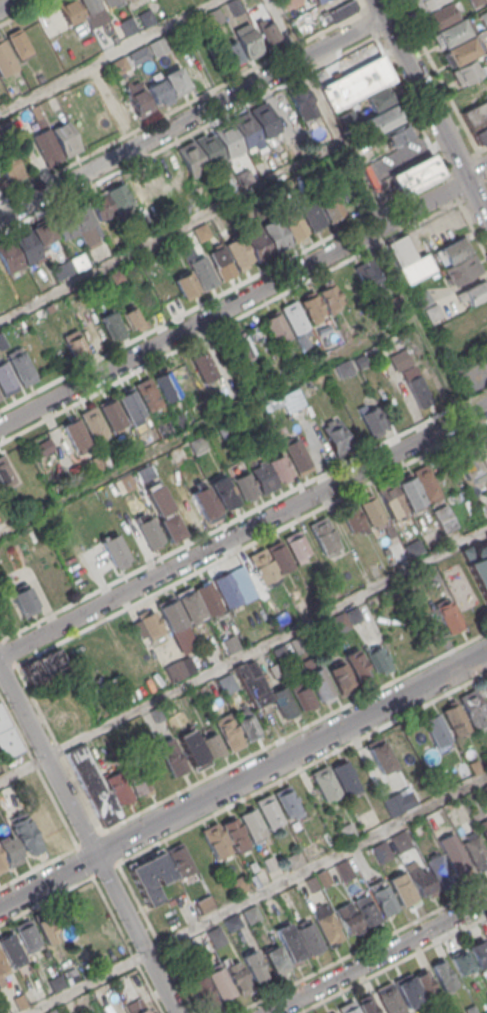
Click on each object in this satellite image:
building: (316, 1)
building: (107, 2)
building: (475, 2)
road: (7, 4)
building: (426, 4)
building: (69, 10)
building: (94, 10)
building: (336, 10)
building: (216, 15)
building: (145, 17)
building: (440, 17)
building: (484, 18)
building: (127, 26)
building: (268, 33)
building: (451, 34)
building: (247, 41)
building: (18, 43)
building: (157, 46)
building: (461, 52)
building: (233, 53)
building: (139, 54)
road: (106, 56)
building: (5, 59)
building: (118, 65)
building: (465, 72)
building: (175, 81)
building: (356, 83)
building: (158, 92)
building: (137, 98)
building: (378, 99)
building: (301, 102)
road: (431, 108)
building: (120, 111)
road: (325, 112)
building: (37, 115)
building: (476, 115)
road: (192, 117)
building: (382, 120)
building: (264, 121)
building: (246, 132)
building: (397, 134)
building: (481, 135)
building: (65, 139)
building: (228, 141)
building: (46, 147)
building: (210, 150)
building: (192, 159)
building: (10, 167)
road: (476, 170)
building: (415, 174)
building: (243, 177)
building: (138, 187)
building: (118, 197)
building: (330, 204)
building: (101, 206)
building: (240, 212)
building: (311, 213)
building: (293, 222)
building: (63, 223)
building: (85, 223)
building: (42, 231)
building: (201, 231)
road: (170, 232)
building: (276, 234)
building: (258, 241)
building: (27, 245)
building: (187, 247)
building: (400, 250)
building: (454, 250)
building: (239, 253)
building: (9, 257)
building: (79, 261)
building: (221, 263)
building: (462, 269)
building: (203, 272)
building: (410, 272)
building: (116, 276)
building: (368, 277)
building: (185, 283)
building: (475, 292)
building: (330, 296)
building: (422, 299)
road: (234, 303)
building: (393, 304)
building: (312, 305)
building: (48, 308)
building: (432, 312)
building: (475, 314)
building: (294, 316)
building: (131, 317)
building: (111, 326)
building: (276, 327)
building: (2, 341)
building: (74, 343)
road: (427, 344)
building: (239, 346)
building: (399, 359)
building: (360, 361)
building: (203, 365)
building: (20, 367)
building: (344, 368)
building: (183, 374)
building: (6, 380)
building: (166, 383)
building: (416, 388)
building: (148, 394)
building: (222, 397)
building: (0, 398)
building: (129, 404)
building: (111, 414)
building: (180, 419)
building: (371, 420)
building: (93, 423)
road: (206, 424)
building: (163, 428)
building: (485, 431)
building: (75, 432)
building: (335, 437)
building: (197, 444)
building: (296, 454)
building: (466, 461)
building: (160, 465)
building: (279, 467)
building: (5, 473)
building: (144, 473)
building: (263, 477)
building: (127, 482)
building: (426, 482)
building: (246, 484)
building: (409, 490)
building: (223, 492)
building: (391, 501)
building: (205, 502)
building: (372, 511)
building: (164, 513)
building: (187, 513)
building: (444, 518)
building: (353, 519)
building: (150, 531)
road: (243, 531)
building: (486, 535)
building: (323, 536)
building: (295, 546)
building: (413, 547)
building: (114, 549)
building: (279, 557)
building: (262, 566)
building: (479, 566)
building: (428, 576)
building: (226, 588)
building: (208, 597)
building: (24, 600)
building: (190, 606)
building: (352, 614)
building: (447, 614)
building: (171, 615)
building: (281, 618)
building: (339, 622)
building: (150, 625)
building: (230, 643)
building: (298, 644)
building: (279, 652)
road: (243, 655)
building: (376, 656)
building: (357, 663)
building: (41, 665)
building: (176, 670)
building: (339, 675)
building: (226, 682)
building: (319, 683)
building: (252, 684)
building: (302, 694)
building: (282, 701)
building: (474, 708)
building: (156, 714)
building: (455, 719)
building: (246, 724)
building: (436, 729)
building: (229, 732)
building: (7, 740)
building: (211, 743)
building: (193, 749)
building: (400, 750)
building: (171, 755)
building: (380, 756)
building: (475, 766)
building: (345, 776)
building: (136, 778)
road: (242, 778)
building: (325, 783)
building: (93, 785)
building: (118, 787)
building: (484, 790)
building: (407, 799)
building: (287, 802)
building: (269, 810)
building: (252, 824)
building: (483, 828)
building: (347, 831)
building: (25, 835)
building: (234, 835)
building: (215, 840)
road: (88, 841)
building: (399, 841)
building: (10, 851)
building: (381, 851)
building: (474, 851)
building: (179, 860)
building: (294, 860)
building: (457, 862)
building: (269, 863)
building: (2, 864)
building: (343, 870)
building: (439, 871)
building: (150, 876)
building: (323, 878)
building: (420, 879)
building: (312, 884)
building: (238, 885)
building: (401, 888)
road: (256, 894)
building: (382, 898)
building: (204, 904)
building: (365, 909)
building: (251, 913)
building: (347, 917)
building: (232, 923)
building: (327, 924)
building: (46, 927)
building: (27, 935)
building: (216, 937)
building: (309, 937)
building: (486, 937)
building: (289, 942)
building: (11, 949)
building: (479, 953)
road: (377, 956)
building: (276, 960)
building: (461, 962)
building: (2, 965)
building: (254, 965)
building: (237, 974)
building: (444, 977)
building: (55, 981)
building: (219, 982)
building: (424, 983)
building: (202, 991)
building: (409, 991)
building: (390, 998)
building: (19, 1001)
building: (368, 1005)
building: (135, 1007)
building: (348, 1008)

